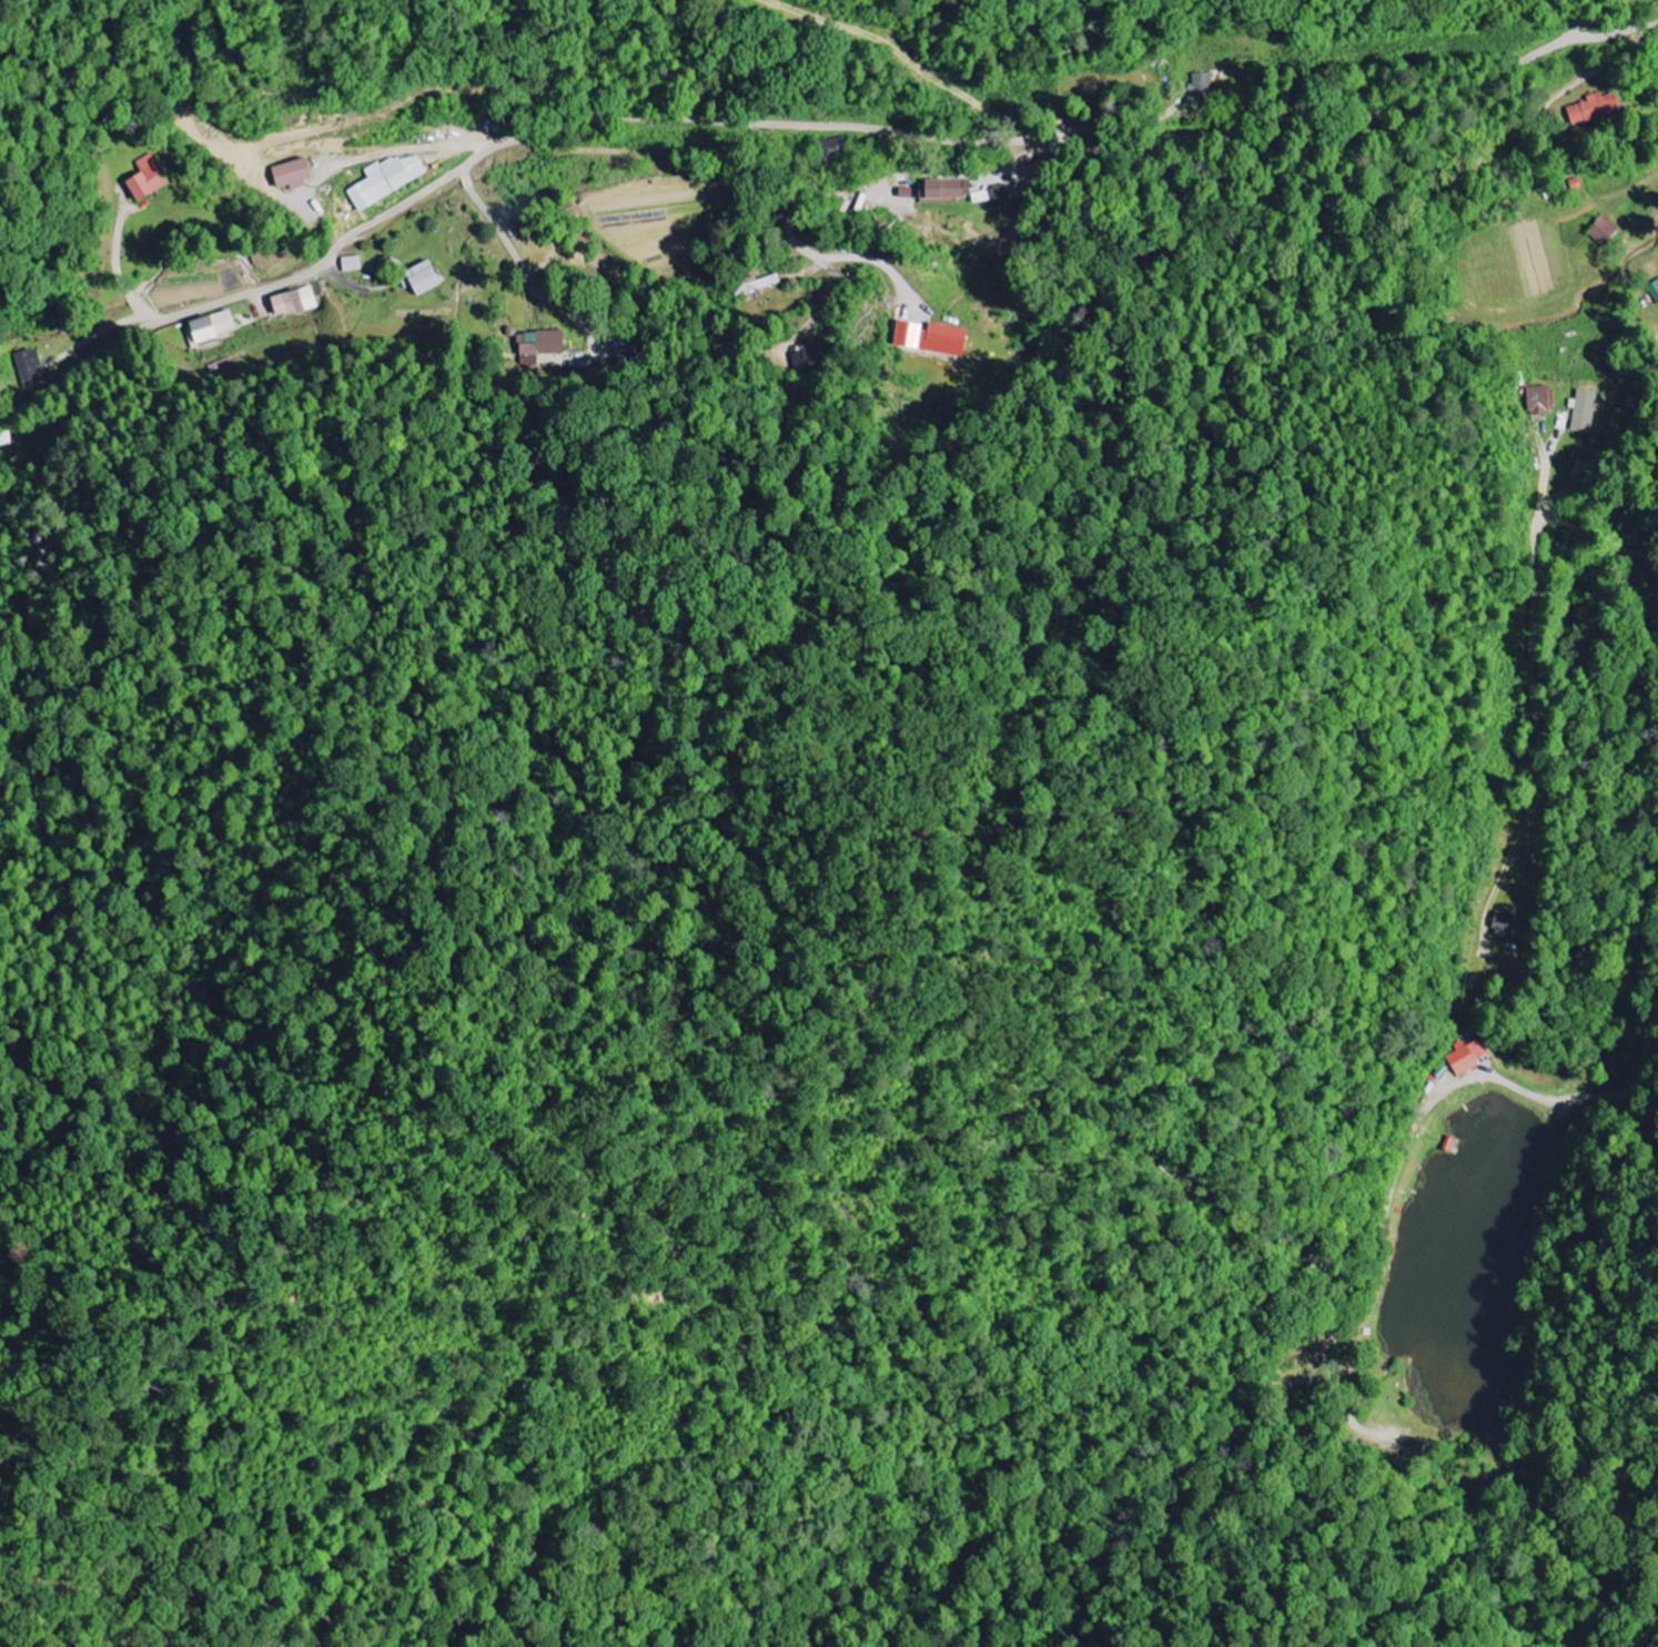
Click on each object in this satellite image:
building: (1202, 84)
building: (1594, 109)
road: (801, 124)
road: (993, 169)
building: (293, 174)
building: (148, 179)
building: (388, 180)
road: (856, 186)
building: (946, 190)
building: (1000, 196)
building: (981, 198)
building: (1605, 231)
building: (352, 264)
building: (424, 279)
building: (768, 282)
building: (1655, 291)
building: (294, 302)
building: (213, 327)
building: (932, 339)
building: (29, 363)
building: (1540, 401)
building: (1585, 412)
road: (1654, 502)
building: (1507, 922)
building: (1463, 1059)

